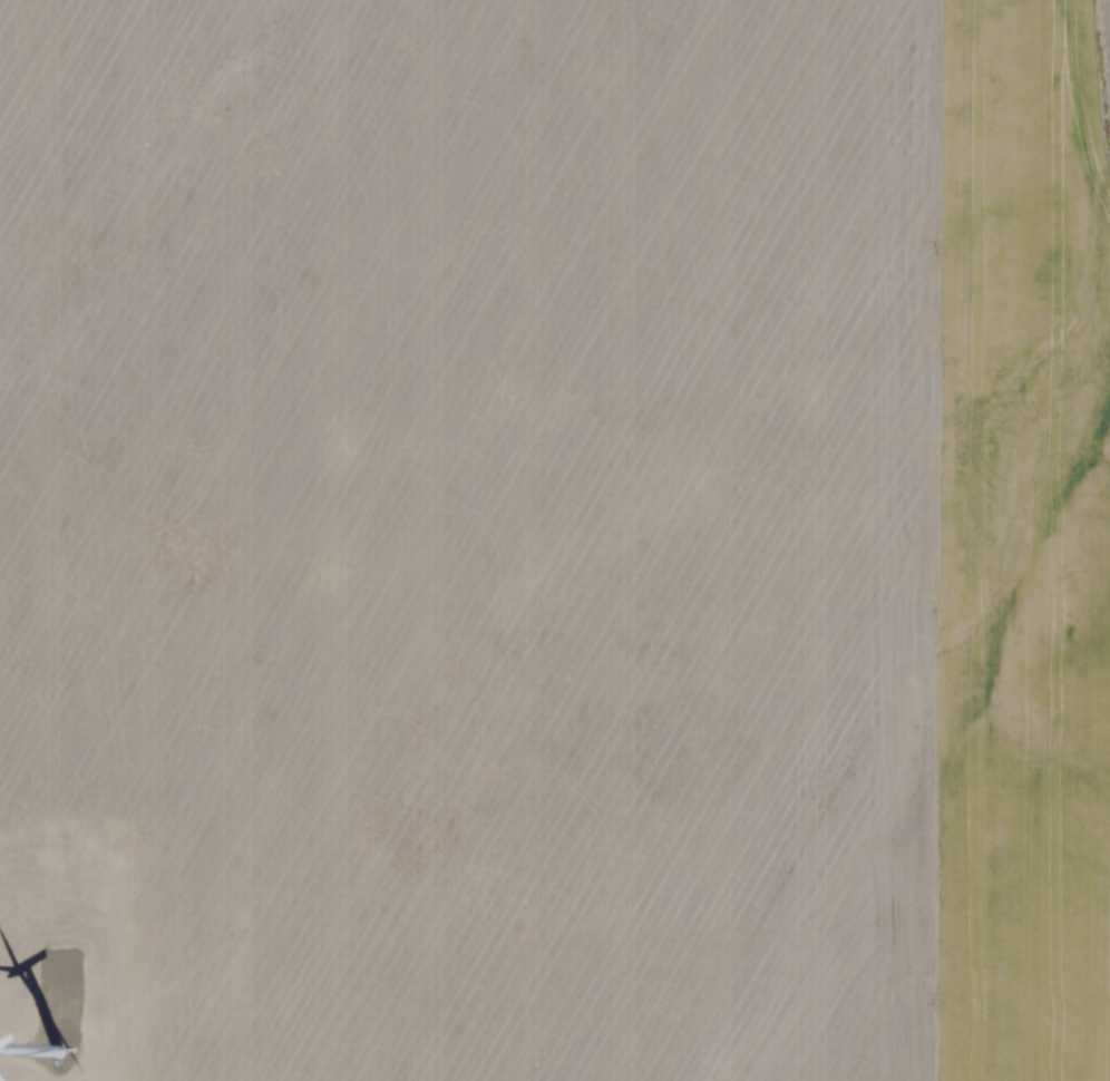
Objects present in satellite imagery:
wind turbine: (22, 1053)

